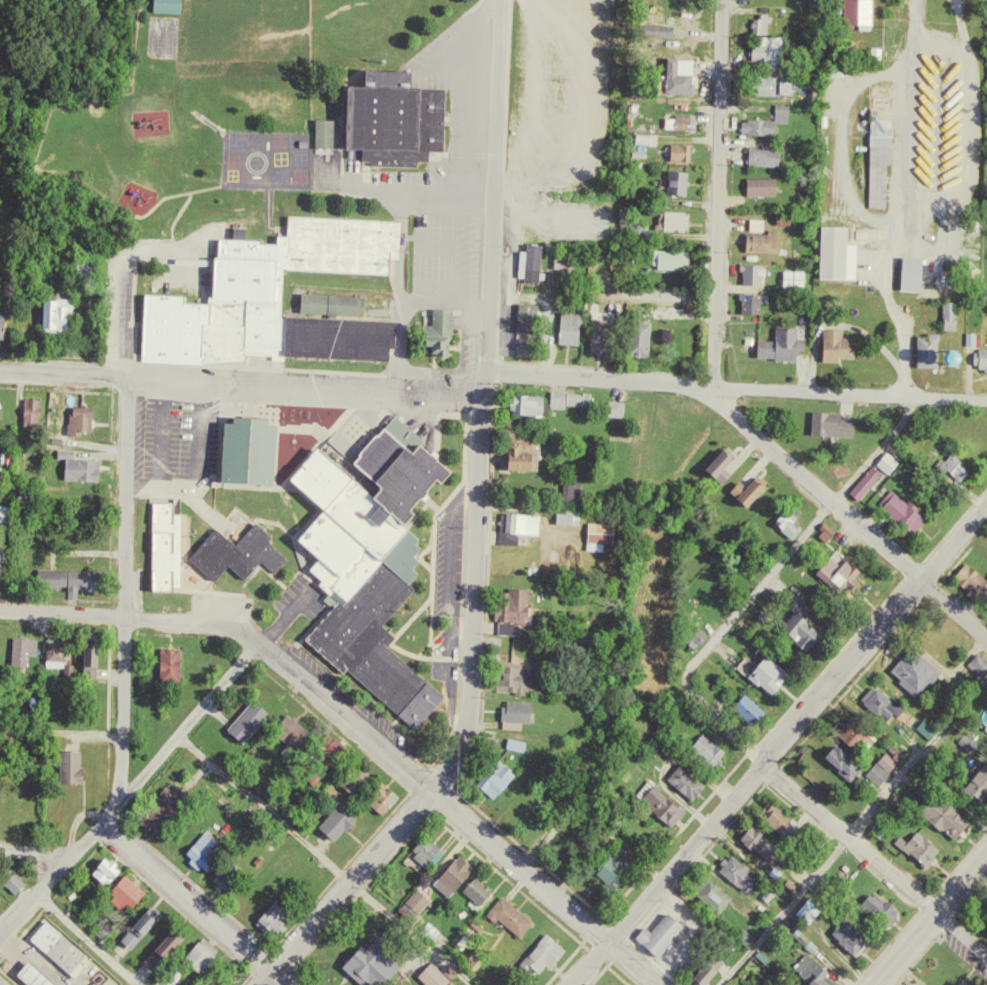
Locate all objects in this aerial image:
building: (163, 4)
building: (860, 14)
building: (762, 23)
park: (160, 36)
building: (770, 52)
building: (677, 74)
building: (765, 86)
building: (782, 113)
building: (391, 117)
building: (680, 124)
building: (758, 127)
building: (321, 132)
building: (880, 147)
building: (678, 152)
building: (766, 157)
building: (674, 181)
building: (762, 186)
road: (718, 194)
building: (669, 219)
building: (762, 245)
building: (838, 253)
building: (666, 258)
building: (529, 262)
building: (753, 273)
building: (912, 273)
building: (795, 281)
building: (274, 297)
building: (752, 304)
building: (55, 314)
building: (950, 314)
building: (523, 320)
building: (567, 326)
building: (435, 328)
building: (2, 329)
building: (597, 333)
building: (634, 337)
building: (969, 342)
building: (782, 344)
building: (838, 344)
building: (927, 350)
building: (981, 358)
road: (493, 381)
building: (563, 397)
building: (523, 402)
building: (611, 405)
building: (532, 408)
building: (31, 411)
building: (77, 419)
building: (830, 427)
building: (244, 447)
building: (516, 447)
building: (884, 459)
building: (949, 466)
building: (79, 467)
building: (721, 470)
building: (861, 479)
road: (813, 486)
building: (564, 488)
building: (749, 494)
building: (898, 510)
building: (564, 513)
building: (3, 516)
building: (513, 523)
road: (475, 527)
building: (786, 527)
building: (595, 533)
building: (161, 544)
building: (235, 549)
building: (1, 557)
building: (365, 560)
road: (124, 563)
building: (834, 571)
building: (64, 577)
building: (968, 579)
building: (511, 609)
road: (953, 609)
building: (798, 626)
building: (53, 648)
building: (19, 649)
building: (87, 657)
building: (975, 663)
building: (172, 667)
building: (761, 669)
building: (511, 672)
building: (906, 672)
building: (66, 673)
building: (875, 703)
road: (333, 705)
building: (744, 706)
building: (514, 709)
building: (244, 718)
building: (291, 727)
road: (60, 732)
road: (734, 739)
building: (857, 739)
building: (969, 739)
building: (511, 741)
road: (777, 743)
building: (328, 749)
building: (704, 749)
building: (837, 762)
building: (882, 762)
building: (66, 766)
building: (355, 775)
building: (873, 775)
building: (491, 776)
building: (682, 778)
building: (198, 780)
road: (118, 781)
building: (976, 781)
road: (128, 791)
building: (379, 796)
building: (167, 802)
building: (657, 802)
road: (264, 809)
building: (937, 815)
building: (333, 820)
building: (774, 821)
road: (852, 828)
building: (756, 845)
building: (200, 848)
building: (422, 851)
building: (915, 851)
road: (30, 856)
road: (874, 858)
building: (611, 862)
building: (102, 869)
building: (732, 873)
building: (448, 874)
building: (223, 875)
building: (474, 888)
building: (122, 891)
building: (708, 897)
building: (409, 902)
road: (194, 903)
building: (805, 908)
building: (875, 912)
building: (268, 916)
building: (507, 917)
building: (144, 918)
road: (929, 919)
building: (426, 930)
building: (658, 932)
road: (412, 933)
building: (844, 936)
road: (89, 939)
building: (165, 941)
building: (57, 947)
building: (539, 952)
building: (197, 953)
building: (372, 962)
road: (629, 964)
building: (807, 970)
building: (700, 972)
building: (433, 974)
building: (35, 976)
building: (204, 982)
building: (495, 984)
building: (592, 984)
building: (597, 984)
building: (909, 984)

